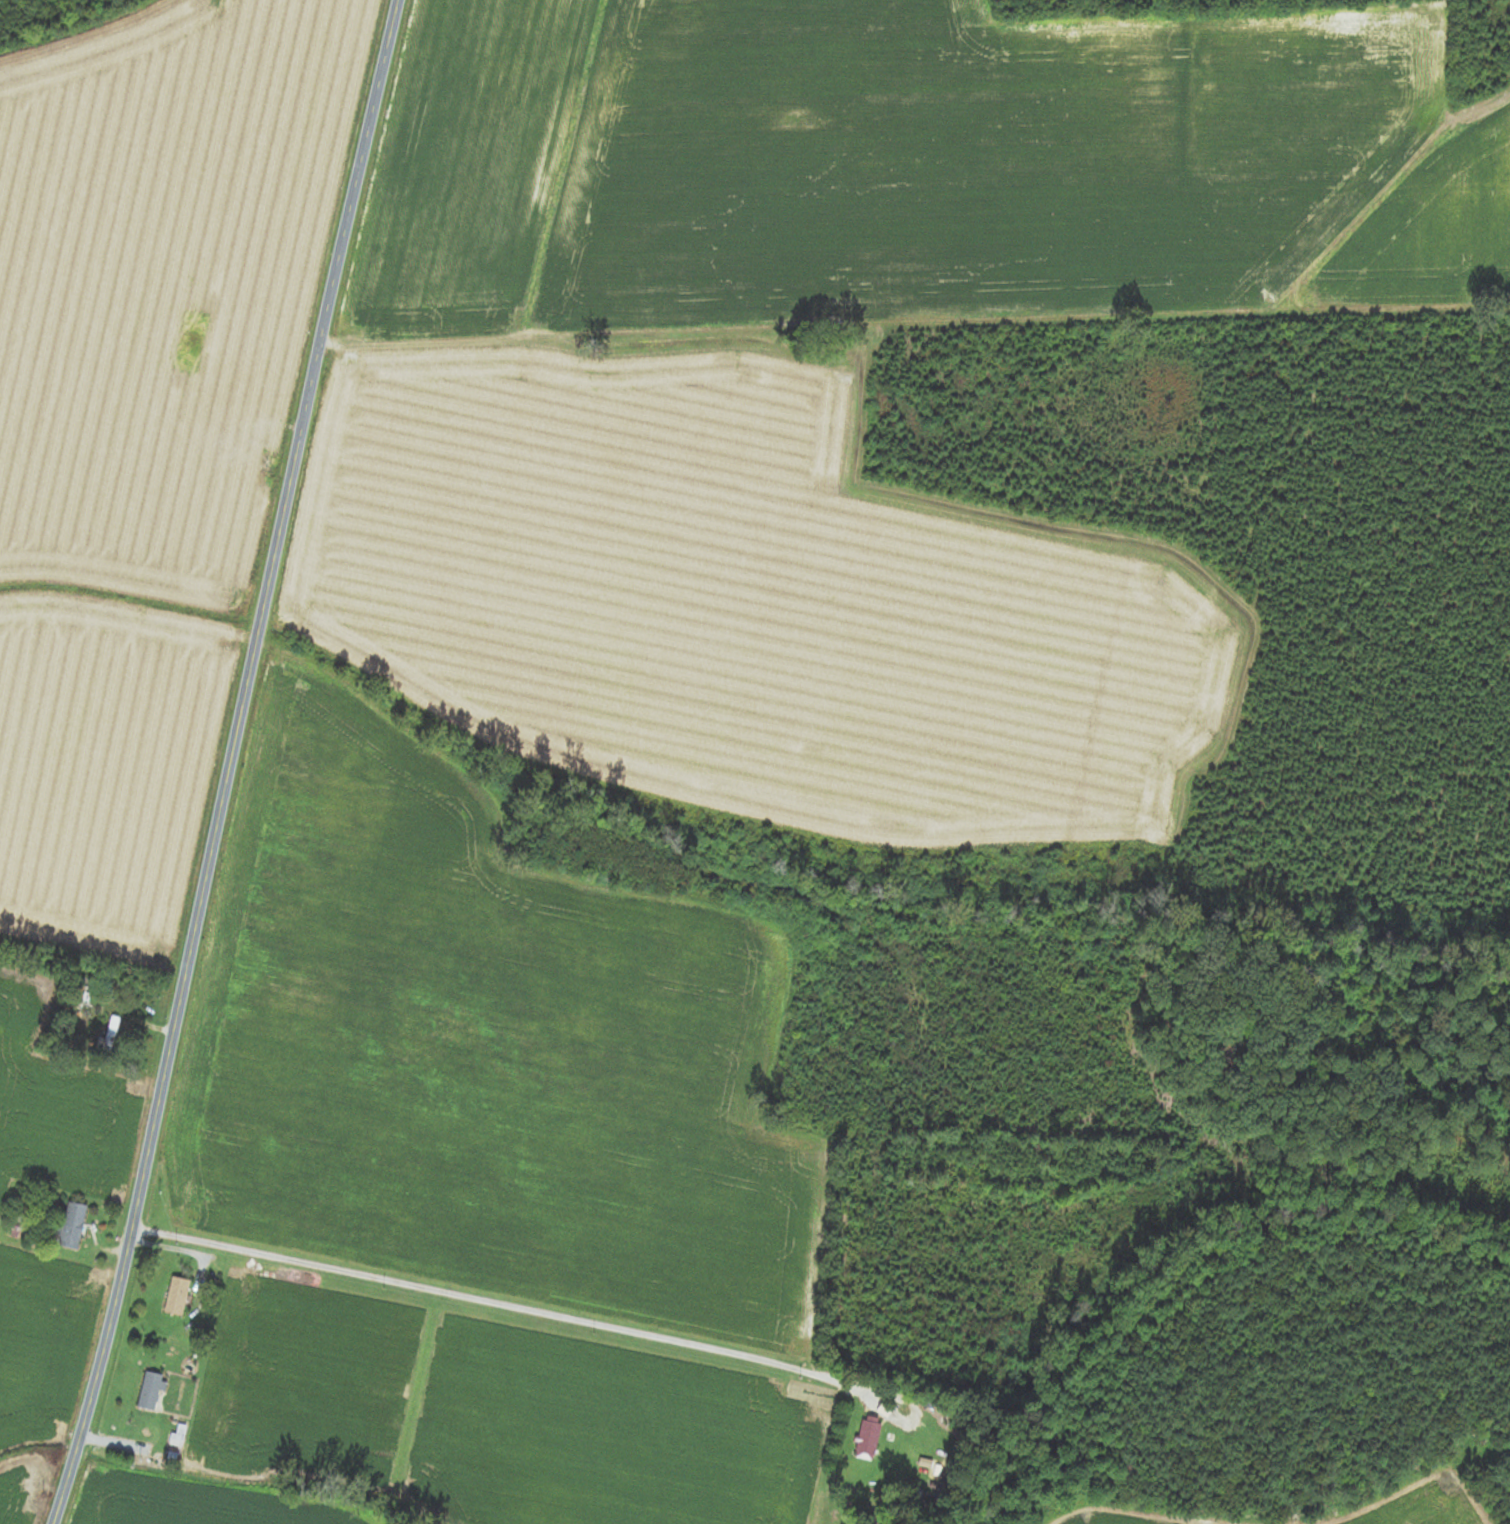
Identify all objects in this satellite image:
road: (231, 763)
building: (76, 995)
building: (2, 1032)
building: (109, 1035)
building: (72, 1226)
building: (176, 1296)
road: (494, 1301)
building: (149, 1392)
building: (866, 1440)
building: (176, 1443)

